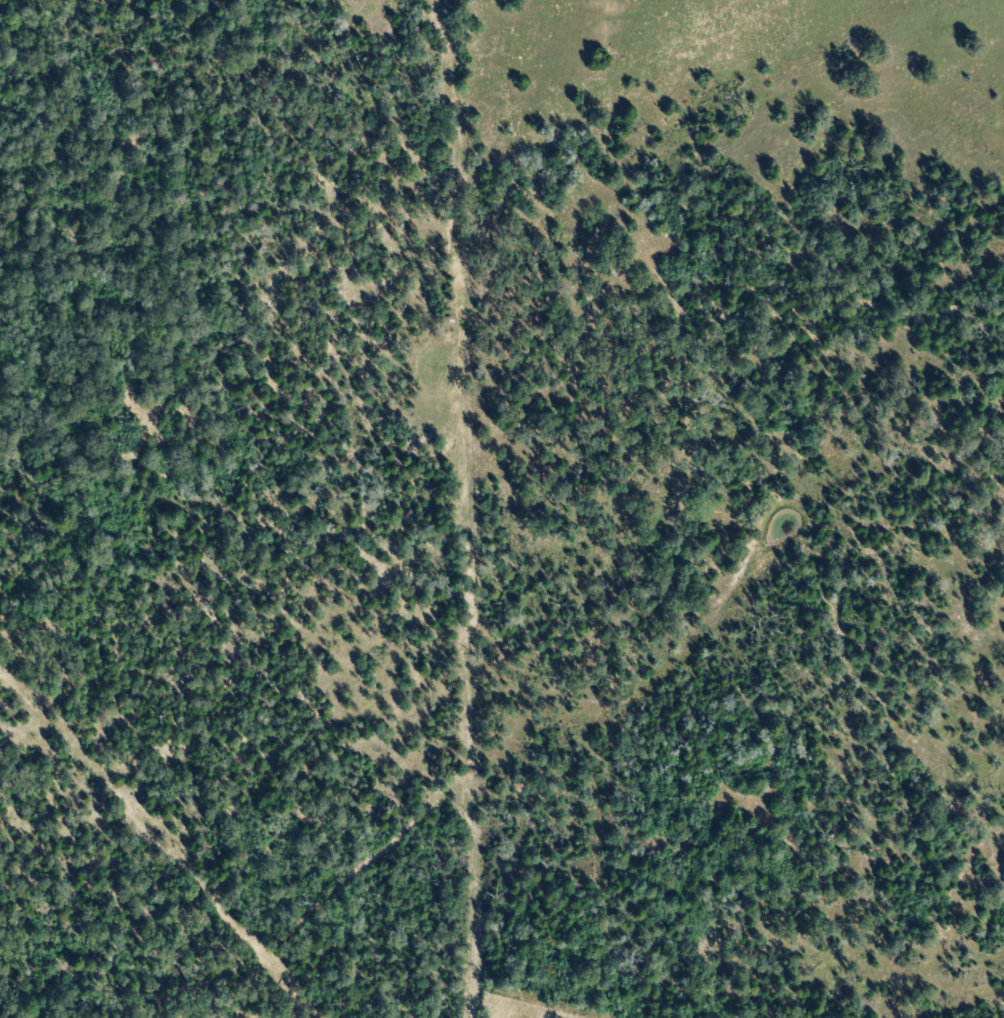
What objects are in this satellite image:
road: (895, 733)

